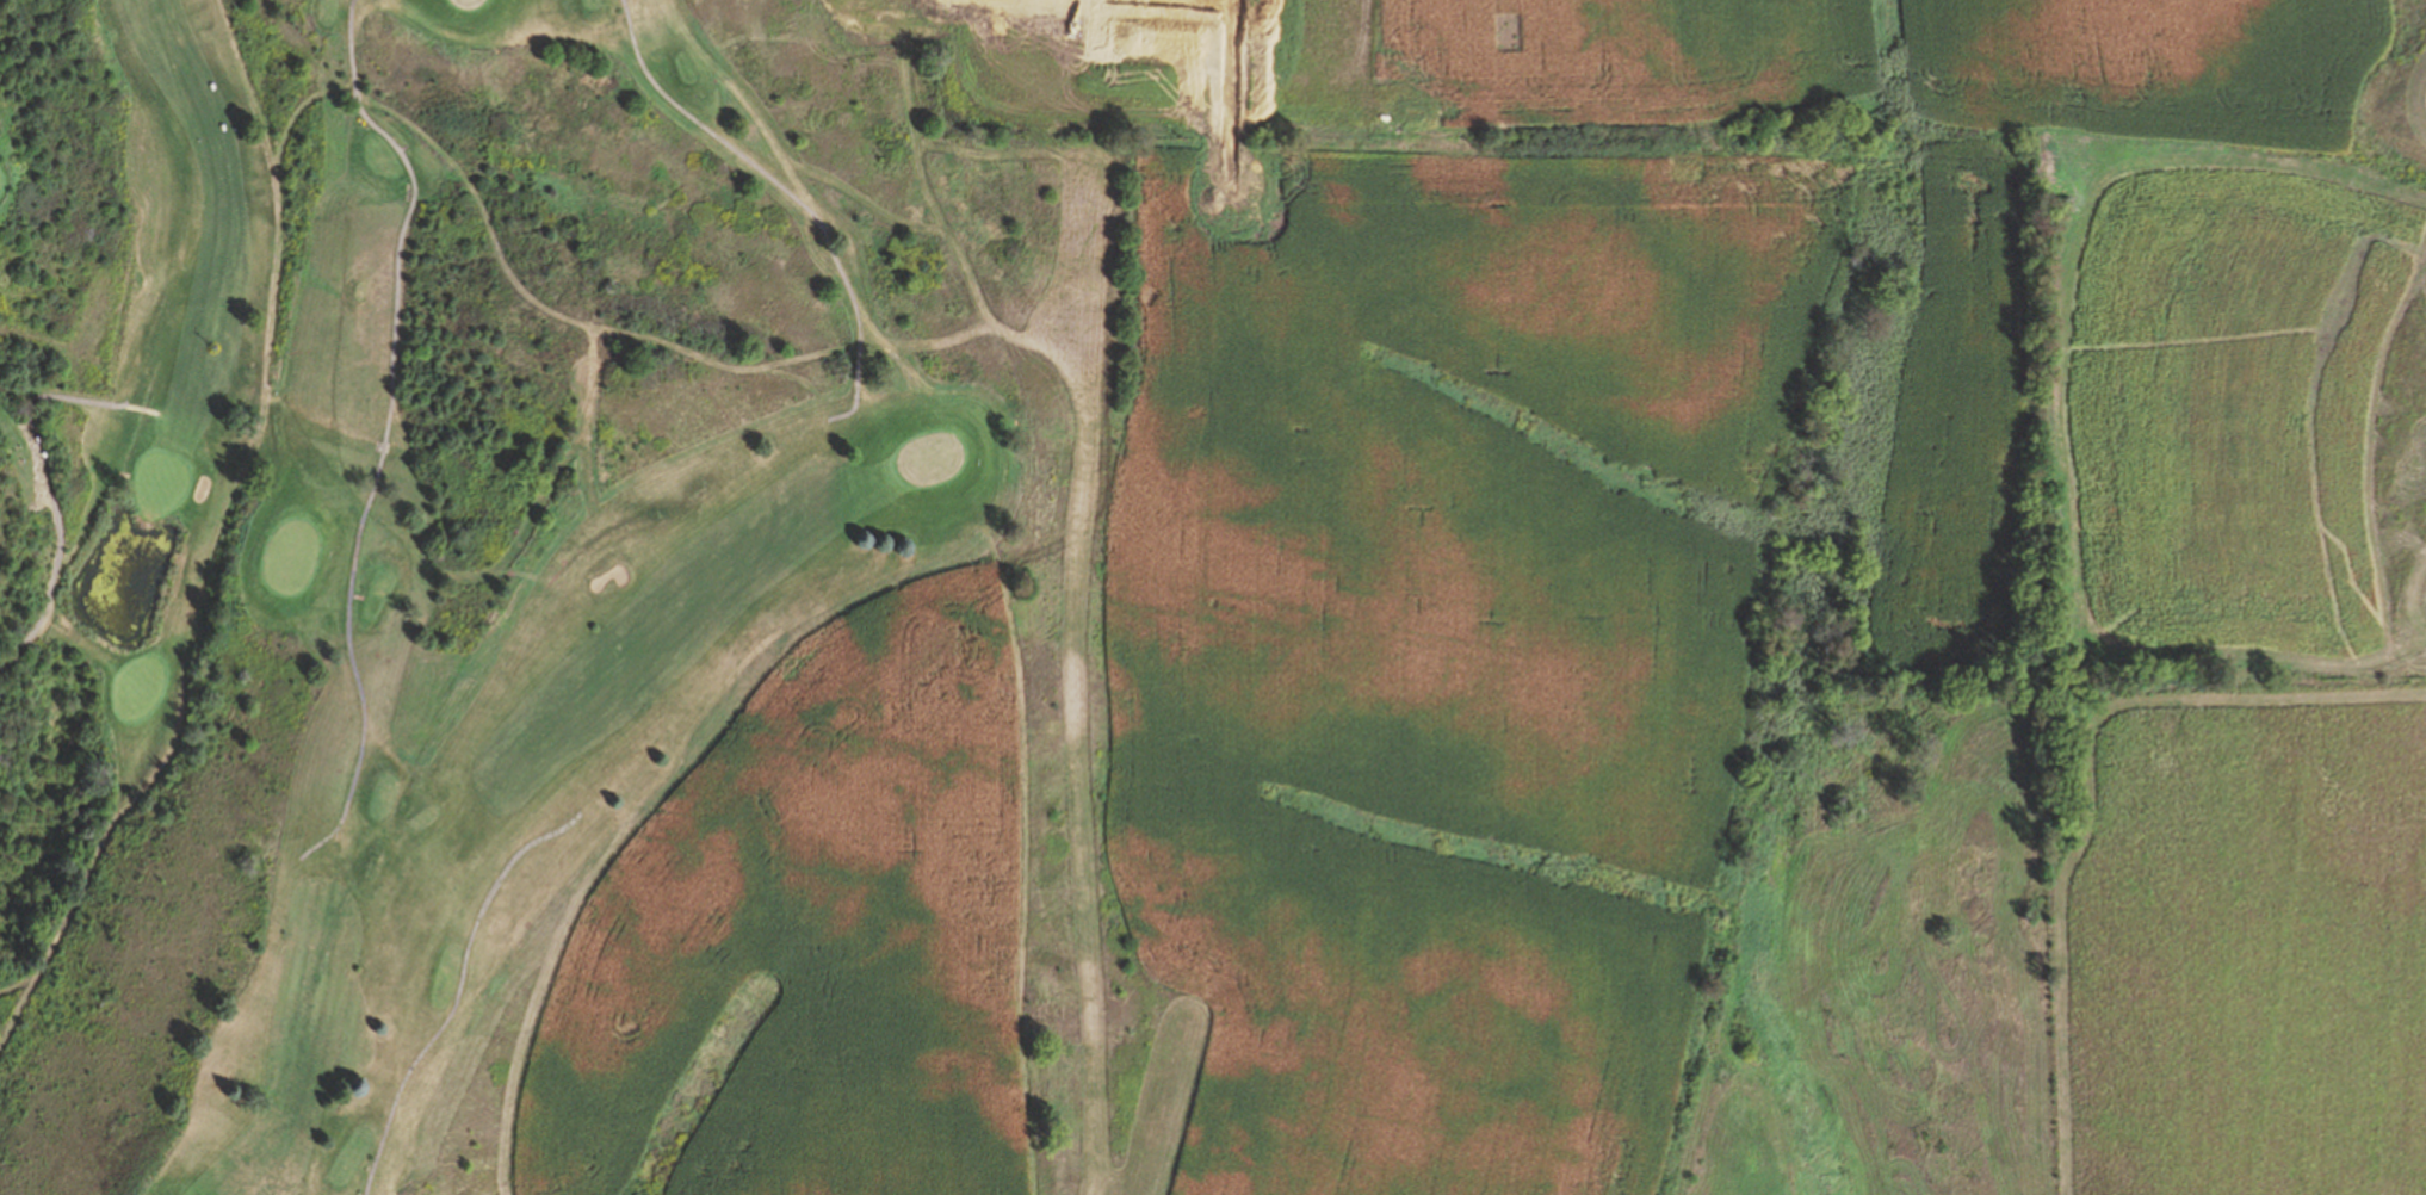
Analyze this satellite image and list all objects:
park: (471, 4)
crop: (1492, 70)
road: (797, 193)
building: (1045, 230)
road: (280, 273)
road: (392, 431)
park: (937, 456)
road: (58, 494)
park: (297, 558)
park: (923, 608)
road: (23, 983)
road: (464, 991)

